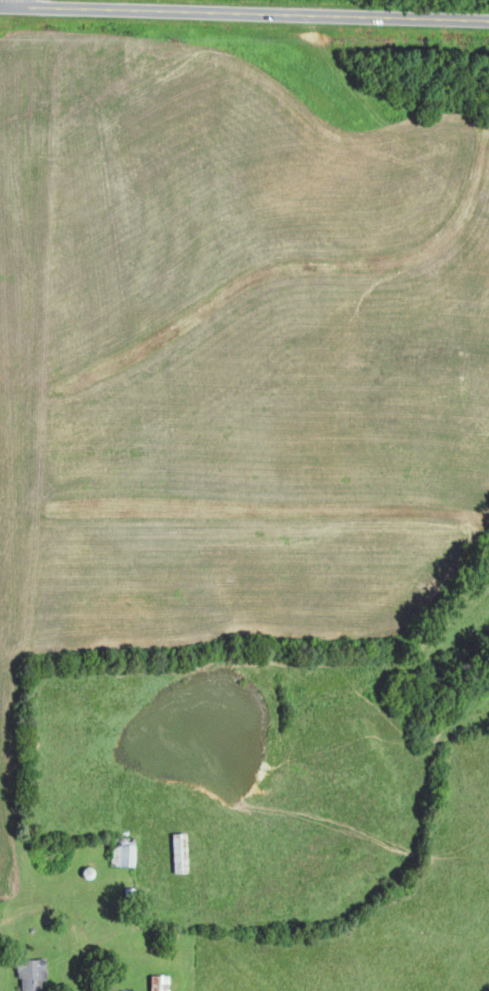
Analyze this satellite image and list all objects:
road: (6, 3)
road: (244, 14)
building: (120, 851)
building: (177, 852)
building: (131, 895)
building: (29, 974)
building: (156, 982)
building: (122, 990)

